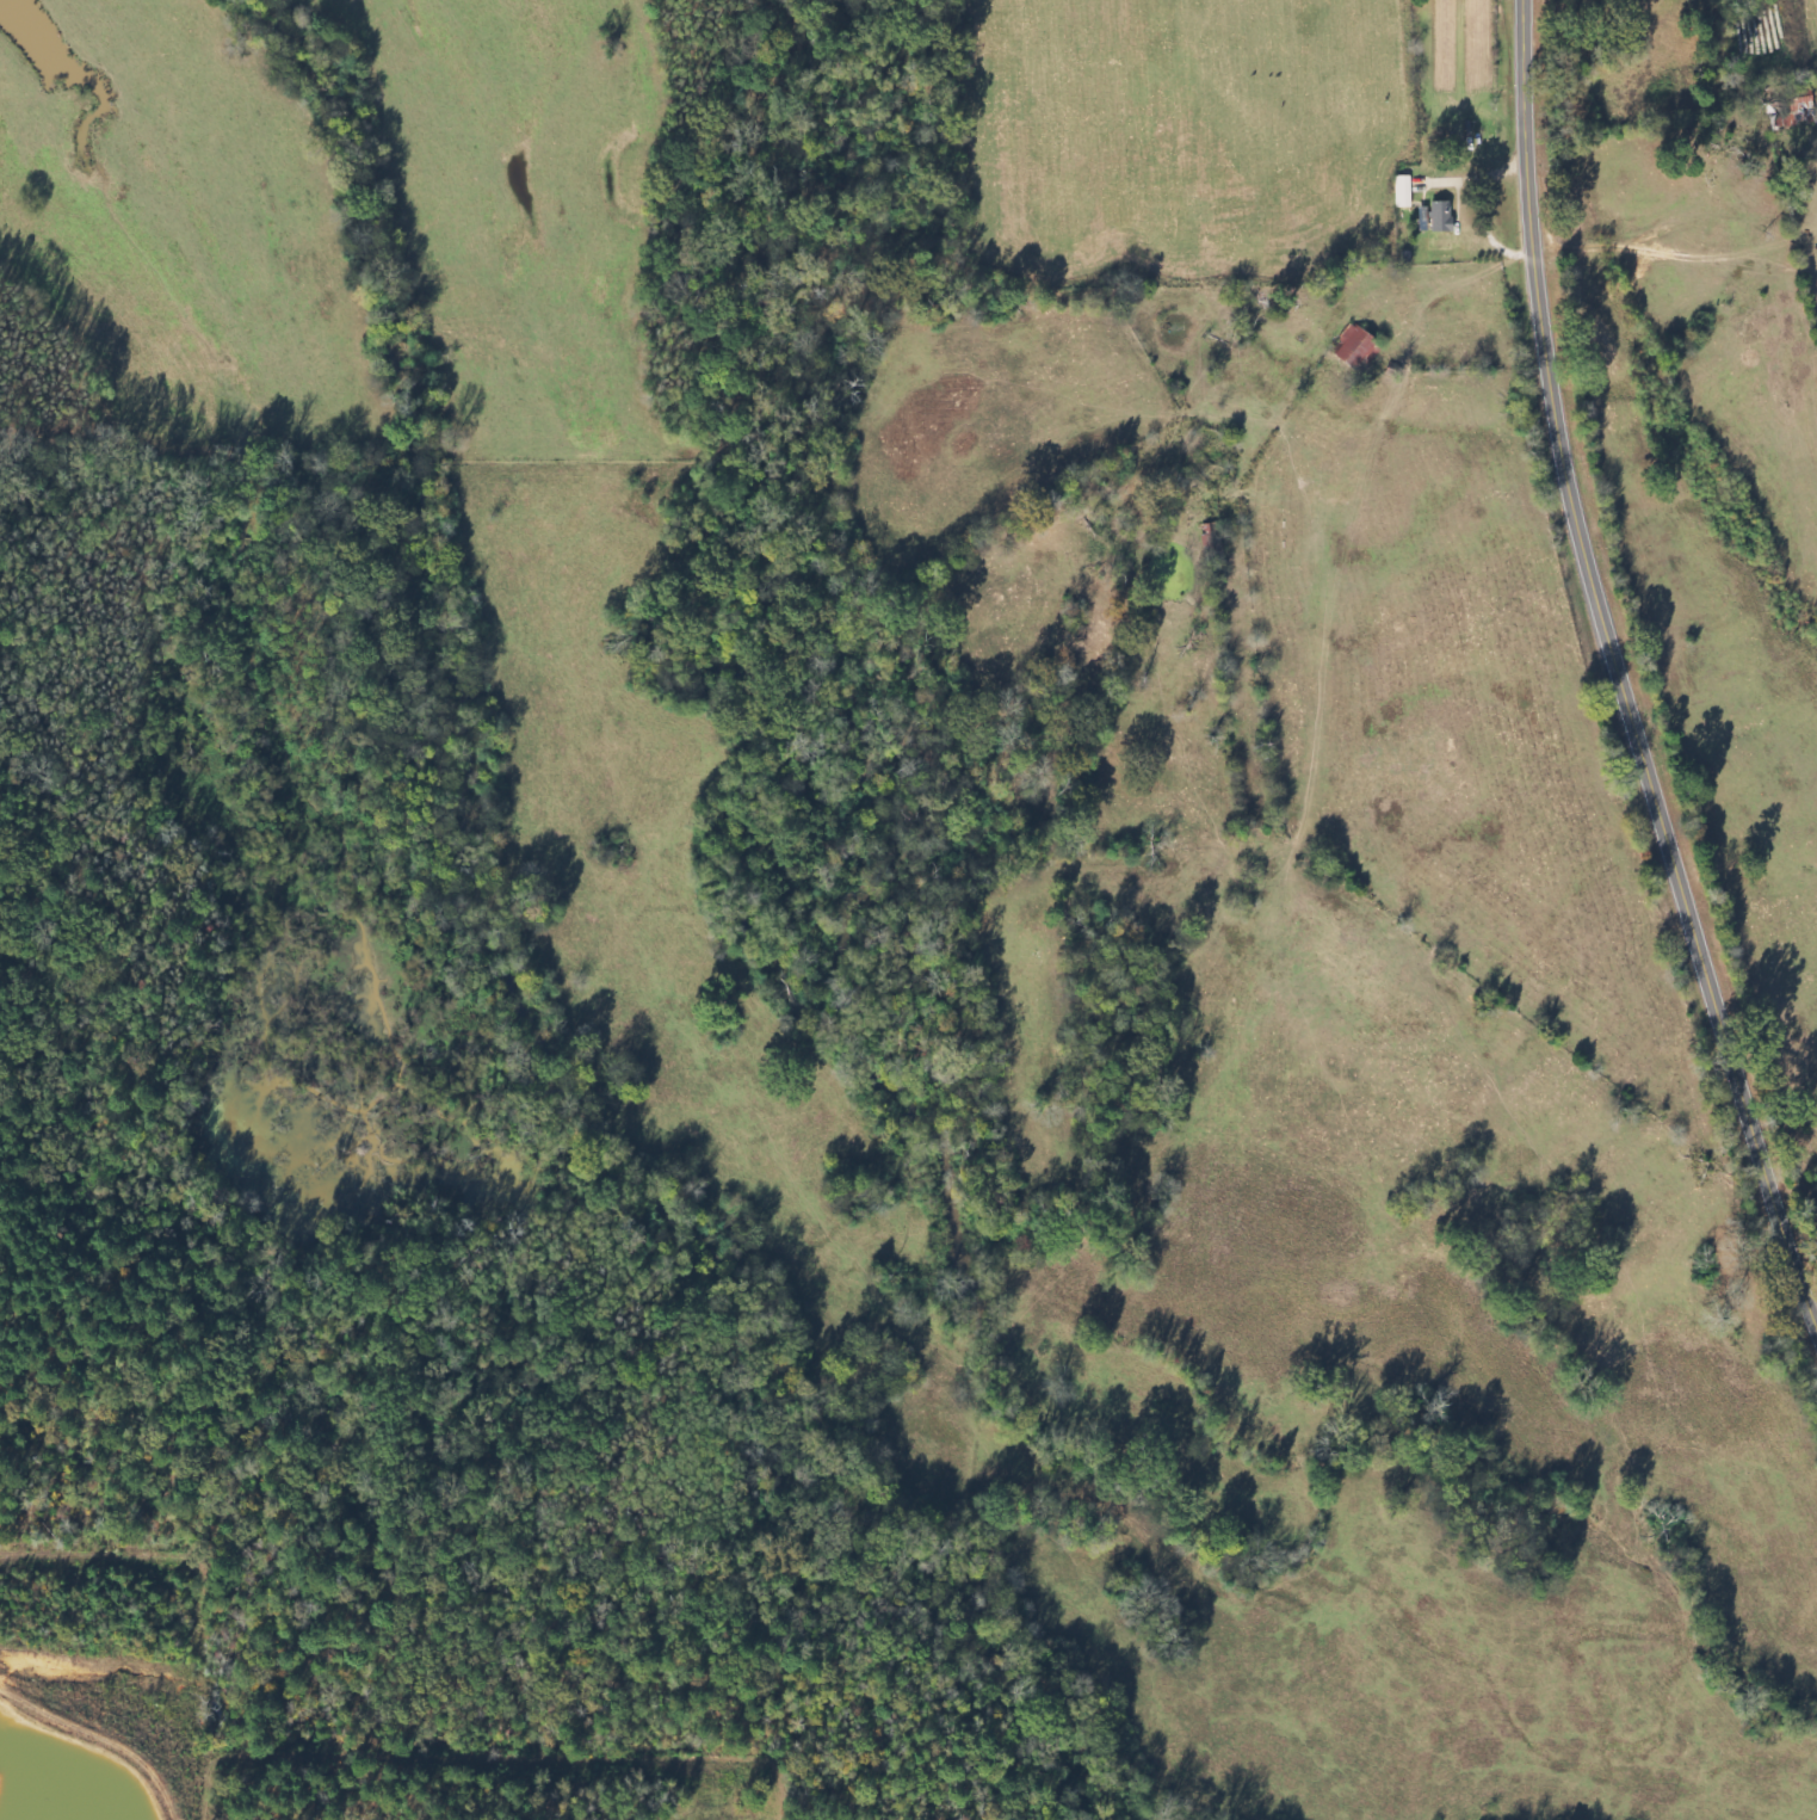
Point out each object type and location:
building: (1402, 192)
building: (1440, 217)
building: (1354, 346)
road: (1617, 665)
road: (1514, 1745)

